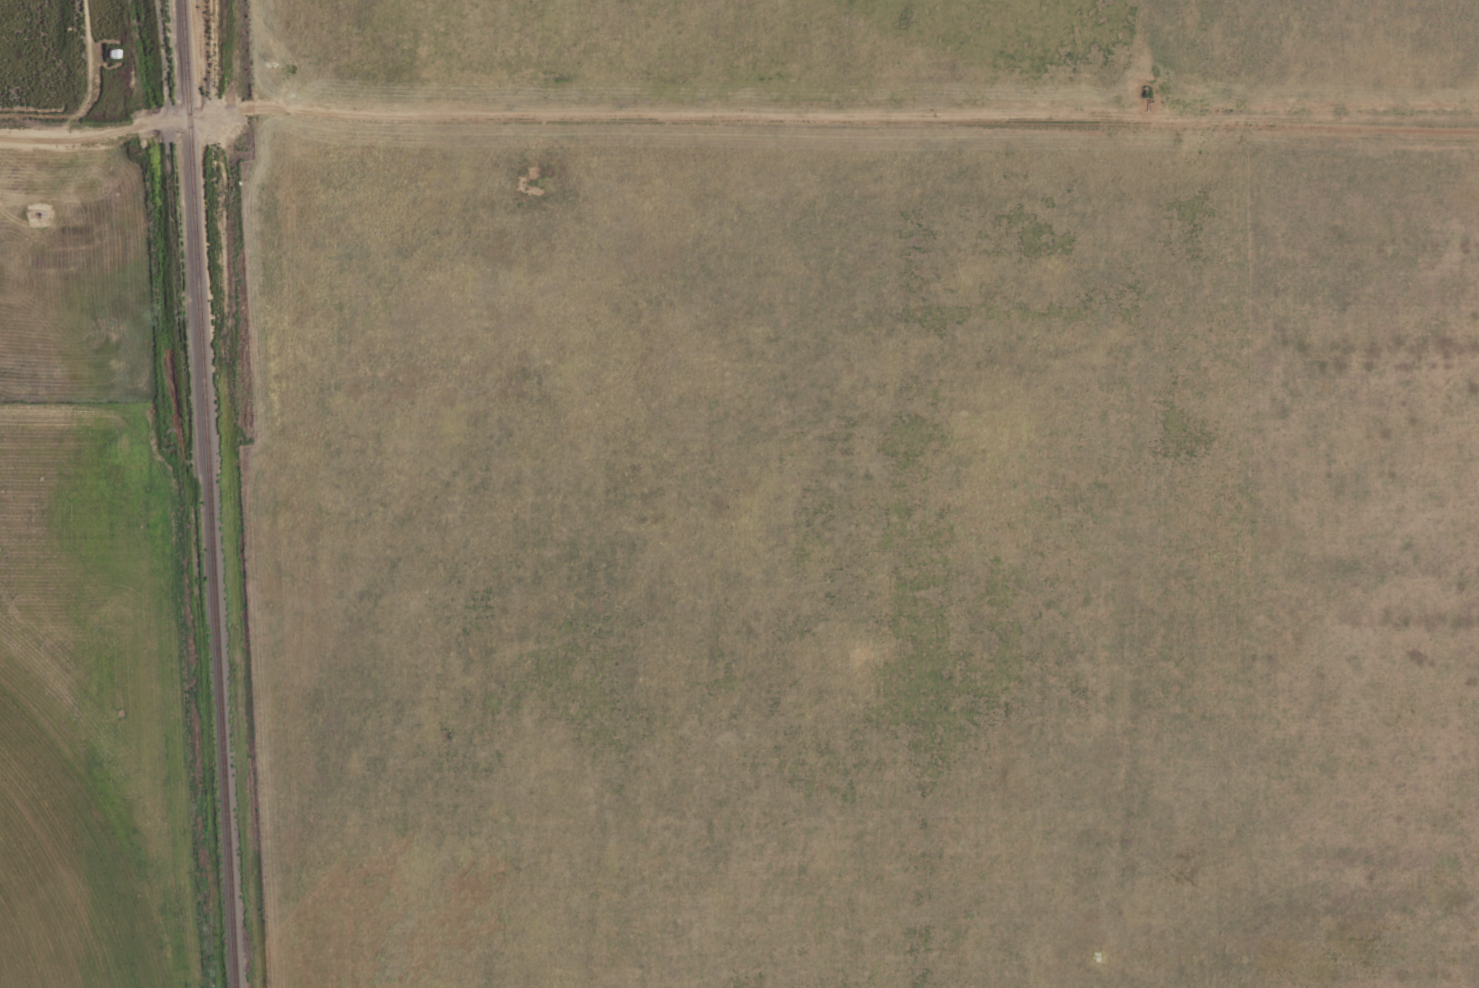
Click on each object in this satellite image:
road: (834, 119)
road: (96, 123)
railway: (211, 494)

